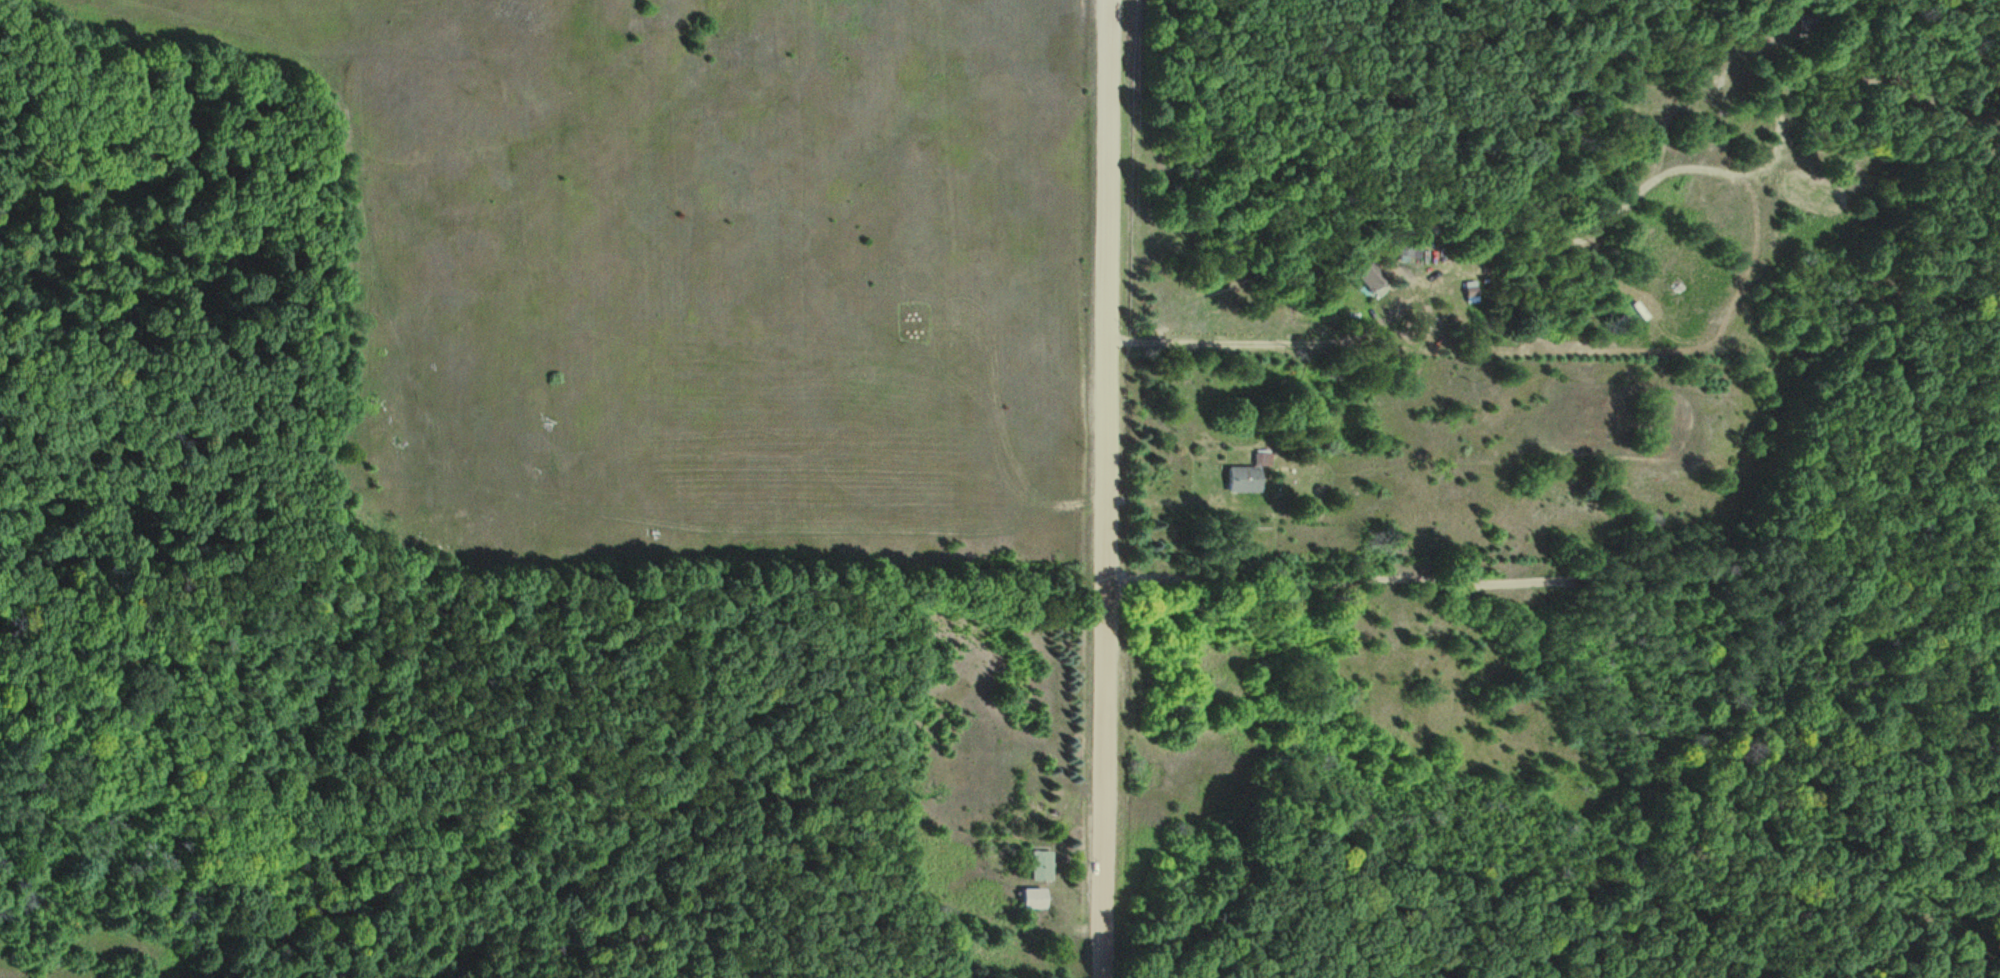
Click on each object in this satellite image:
building: (1247, 474)
road: (1109, 489)
road: (1554, 585)
building: (1039, 866)
building: (1028, 898)

